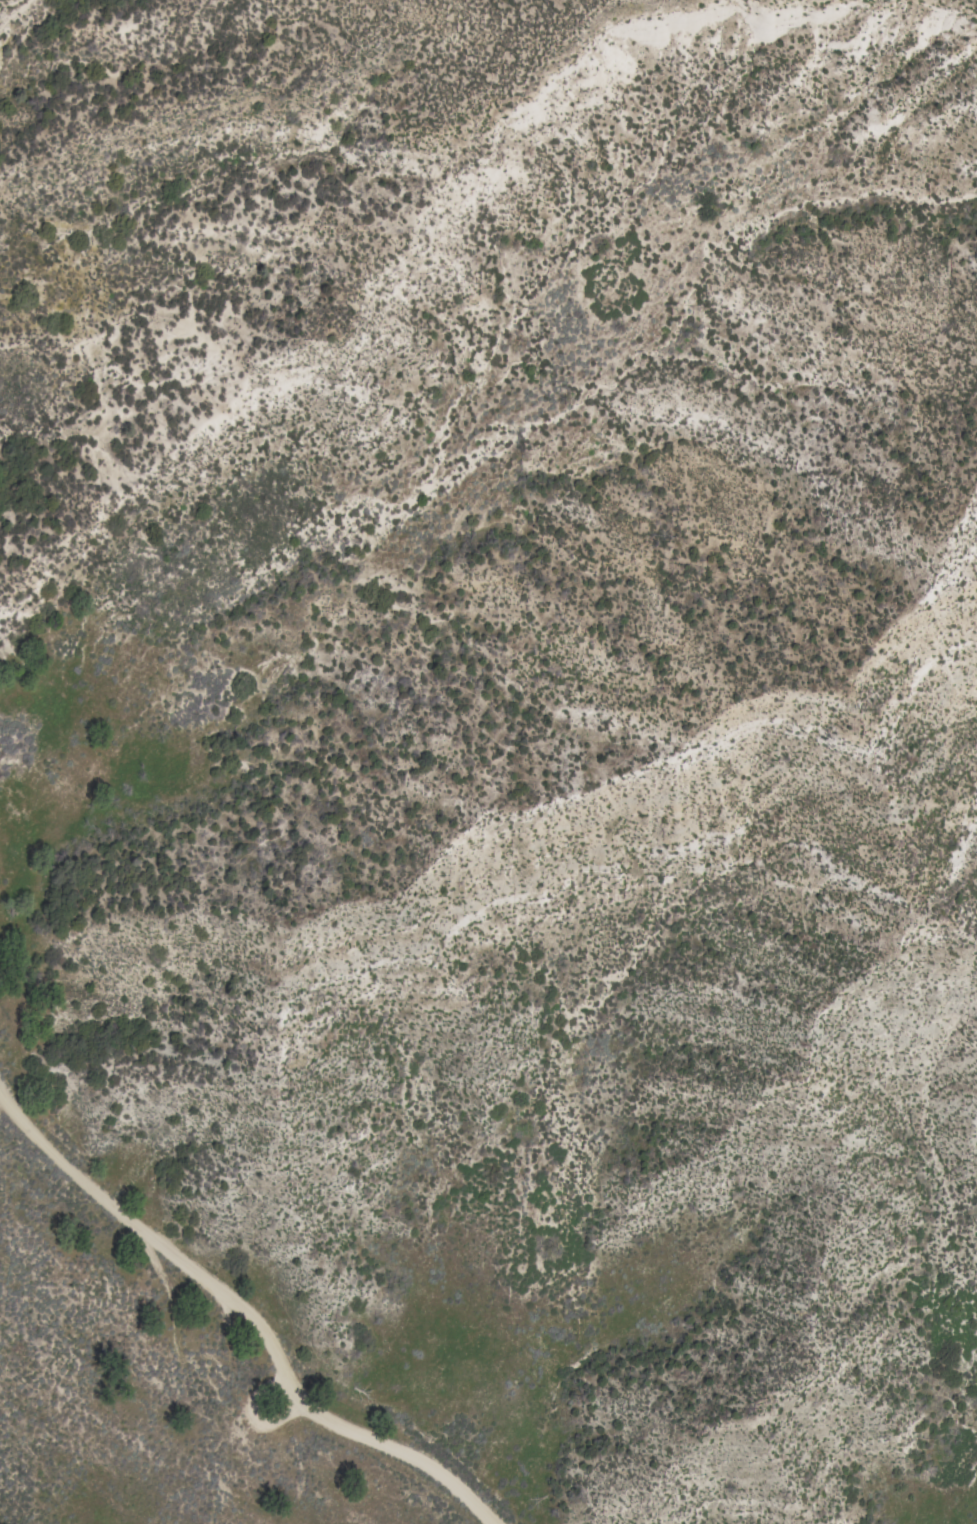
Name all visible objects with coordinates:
road: (251, 1316)

